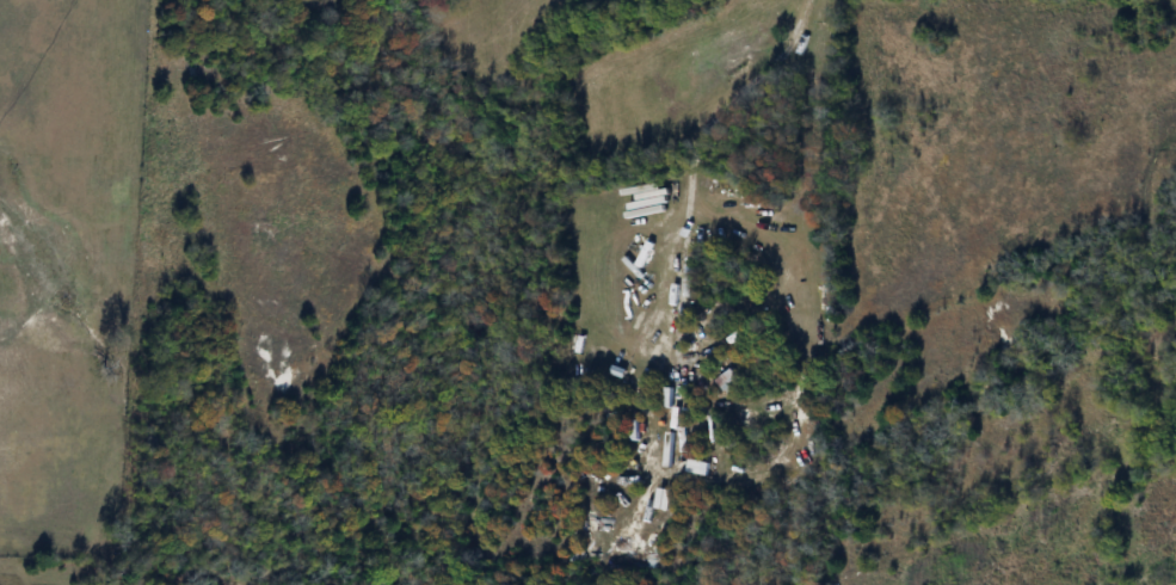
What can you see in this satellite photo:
road: (708, 121)
building: (728, 382)
building: (698, 469)
building: (664, 501)

